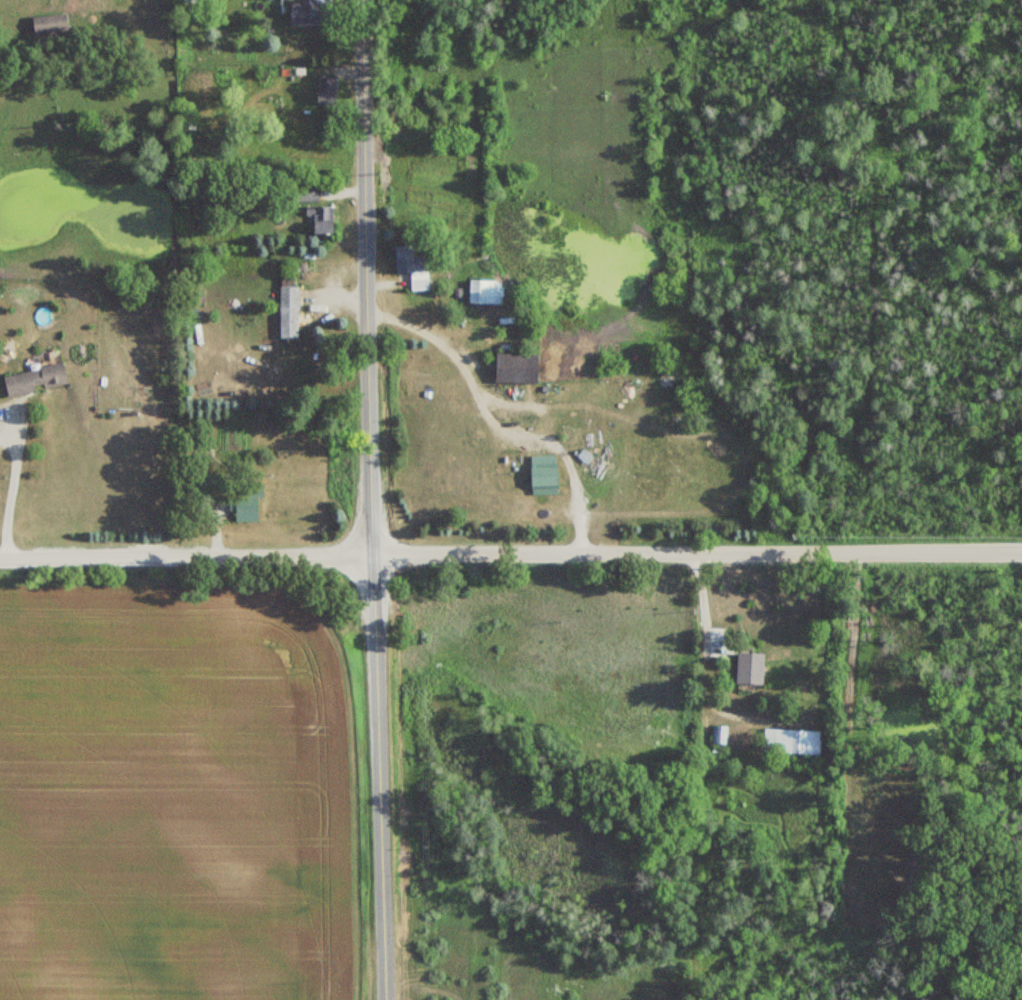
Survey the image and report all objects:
building: (315, 13)
building: (53, 24)
building: (329, 91)
road: (346, 190)
building: (305, 191)
building: (320, 217)
building: (412, 265)
road: (384, 283)
building: (484, 291)
road: (340, 295)
building: (288, 307)
building: (516, 366)
building: (34, 378)
road: (496, 421)
building: (544, 475)
building: (215, 484)
road: (12, 488)
road: (371, 500)
building: (248, 506)
road: (511, 556)
building: (750, 665)
road: (776, 725)
building: (722, 735)
building: (794, 742)

